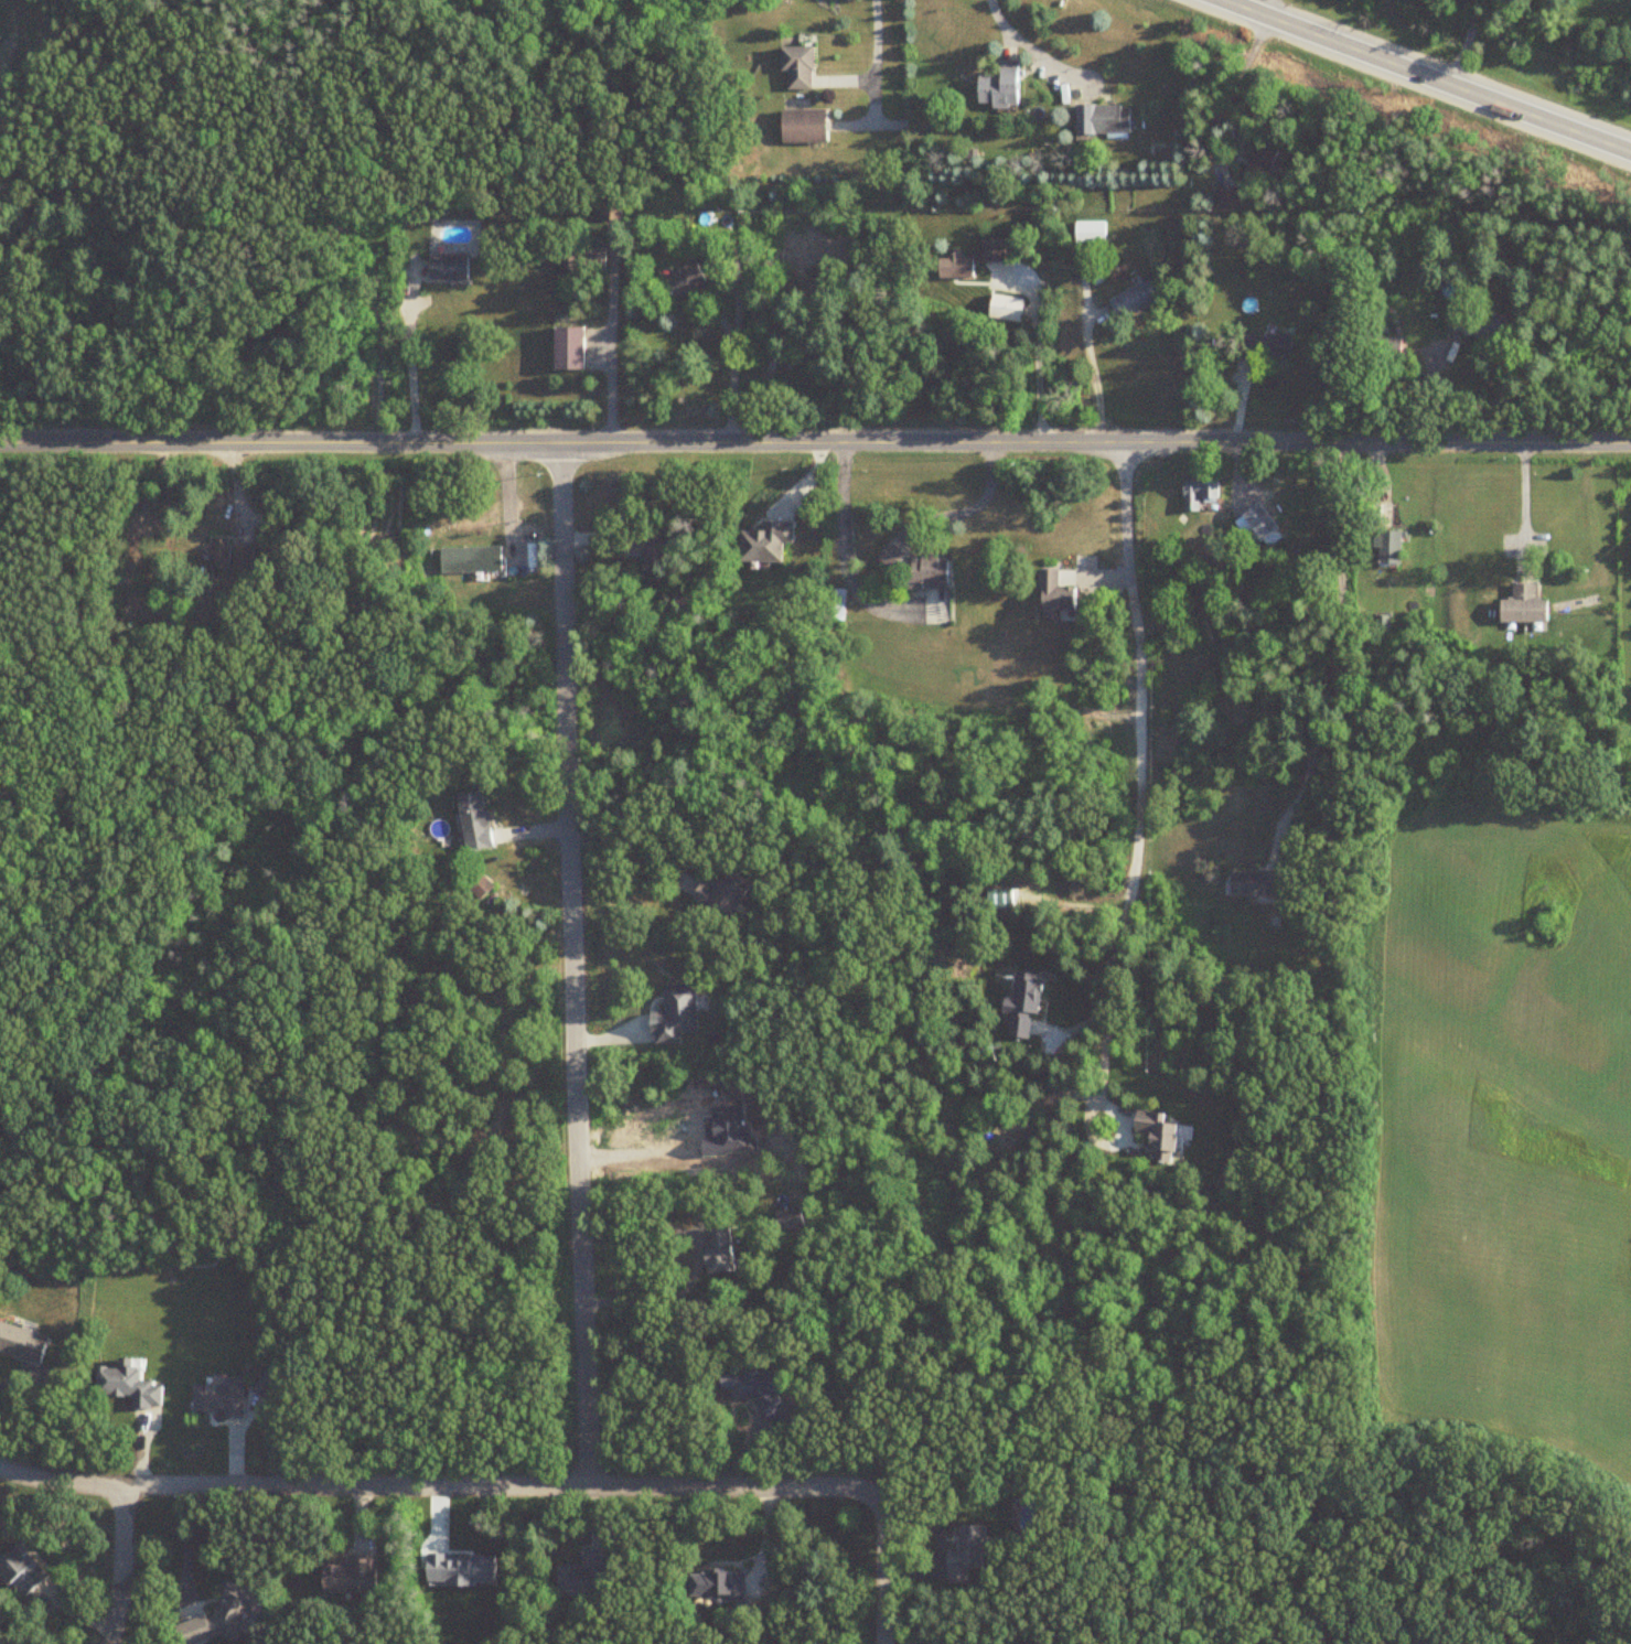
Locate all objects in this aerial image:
road: (1467, 43)
road: (1023, 47)
road: (873, 63)
building: (795, 66)
road: (1426, 75)
road: (1243, 78)
building: (997, 85)
building: (1101, 119)
building: (800, 126)
building: (1257, 163)
building: (1226, 198)
building: (990, 249)
building: (583, 259)
building: (952, 267)
building: (452, 269)
building: (680, 280)
building: (1131, 301)
building: (1002, 309)
building: (1474, 323)
building: (1246, 344)
building: (1276, 344)
building: (1383, 347)
building: (572, 348)
road: (1034, 348)
road: (610, 352)
road: (414, 366)
road: (731, 369)
road: (1094, 379)
road: (815, 444)
building: (1197, 492)
road: (966, 501)
road: (1524, 506)
building: (1254, 524)
building: (762, 541)
building: (1387, 547)
building: (646, 548)
building: (889, 555)
building: (234, 557)
road: (844, 557)
building: (473, 560)
building: (923, 571)
building: (1051, 592)
building: (833, 603)
building: (1521, 605)
road: (1331, 653)
road: (1138, 762)
building: (479, 823)
road: (630, 844)
building: (1252, 883)
building: (720, 894)
road: (576, 965)
building: (672, 1016)
building: (1152, 1135)
building: (786, 1218)
building: (716, 1251)
building: (23, 1344)
building: (132, 1386)
building: (752, 1393)
road: (512, 1486)
building: (970, 1554)
road: (121, 1566)
building: (26, 1571)
building: (355, 1576)
building: (588, 1577)
building: (722, 1584)
building: (228, 1616)

